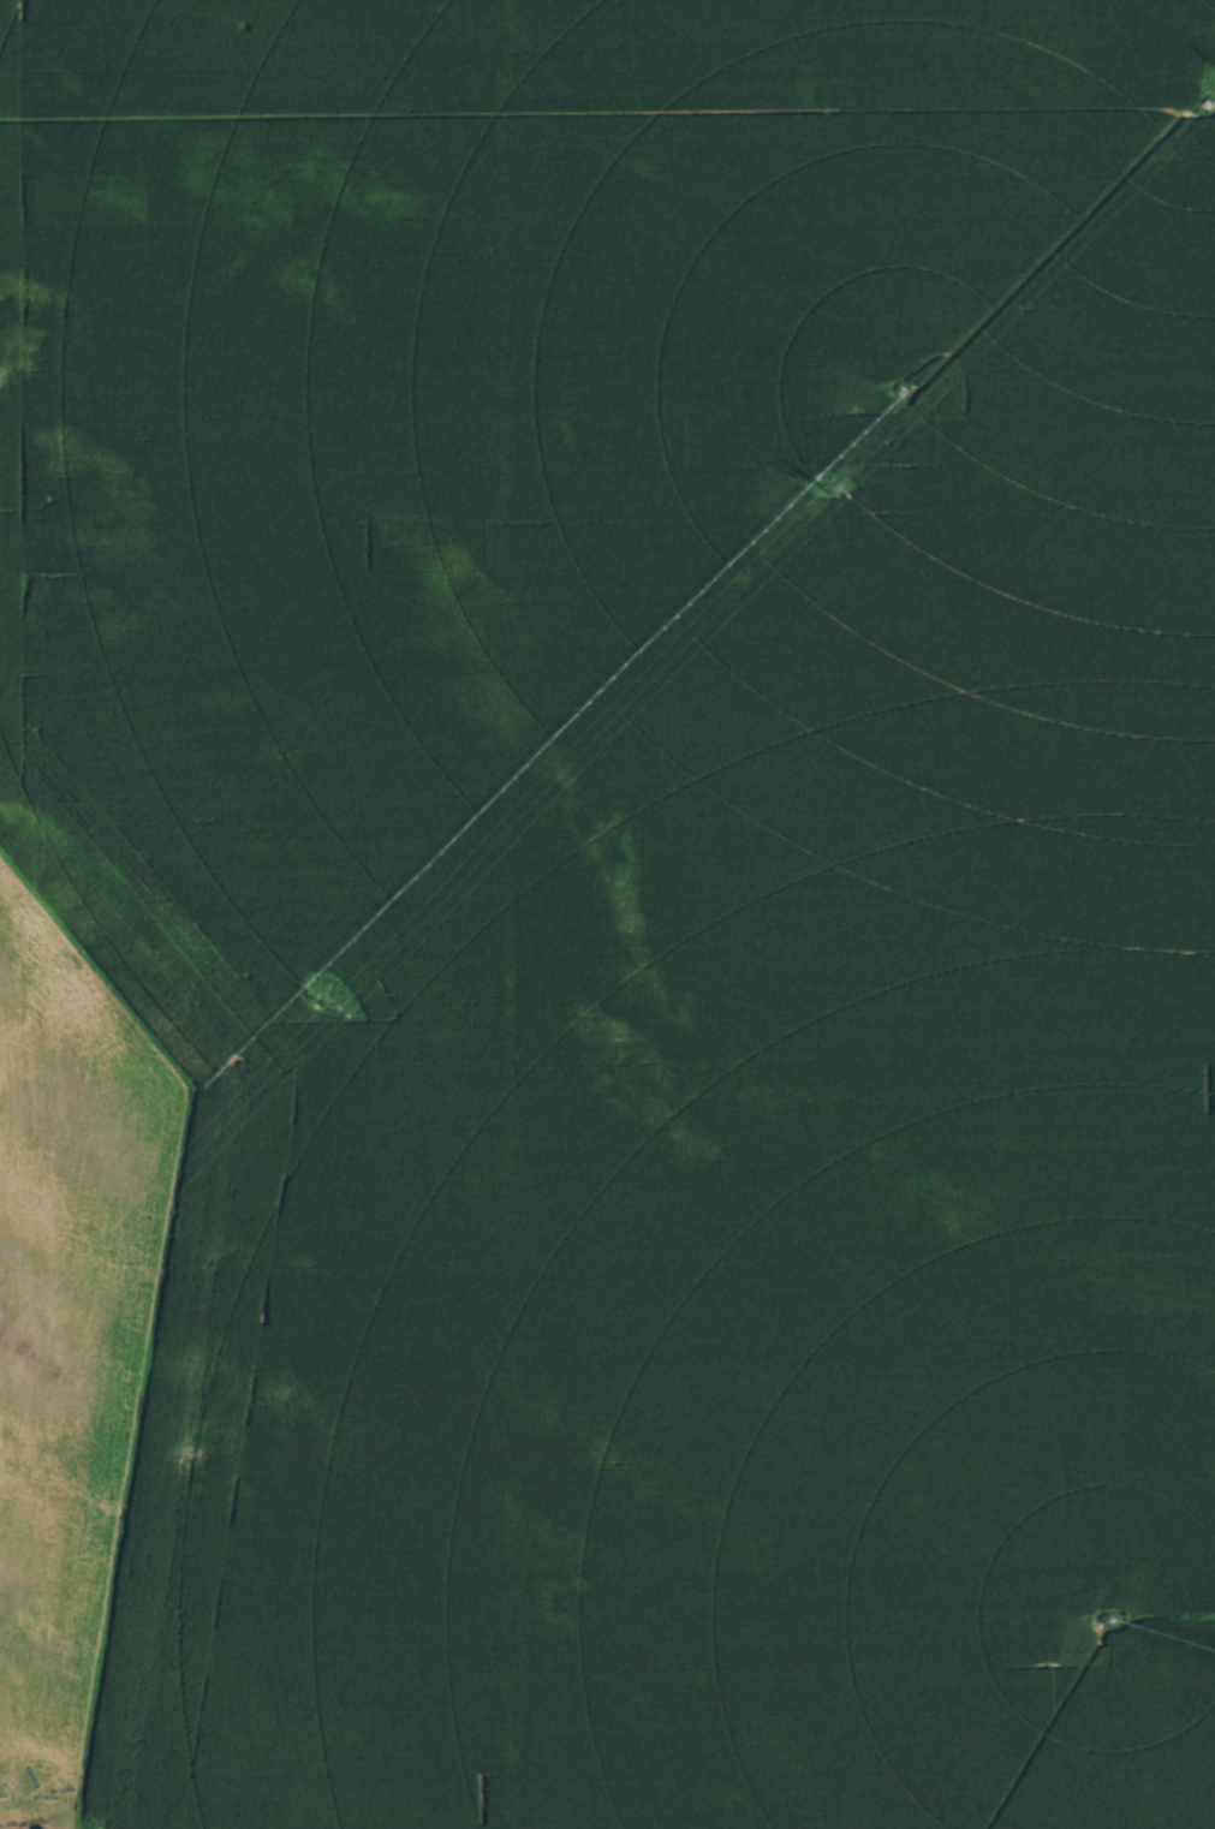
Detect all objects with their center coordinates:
power tower: (824, 487)
power tower: (327, 1000)

